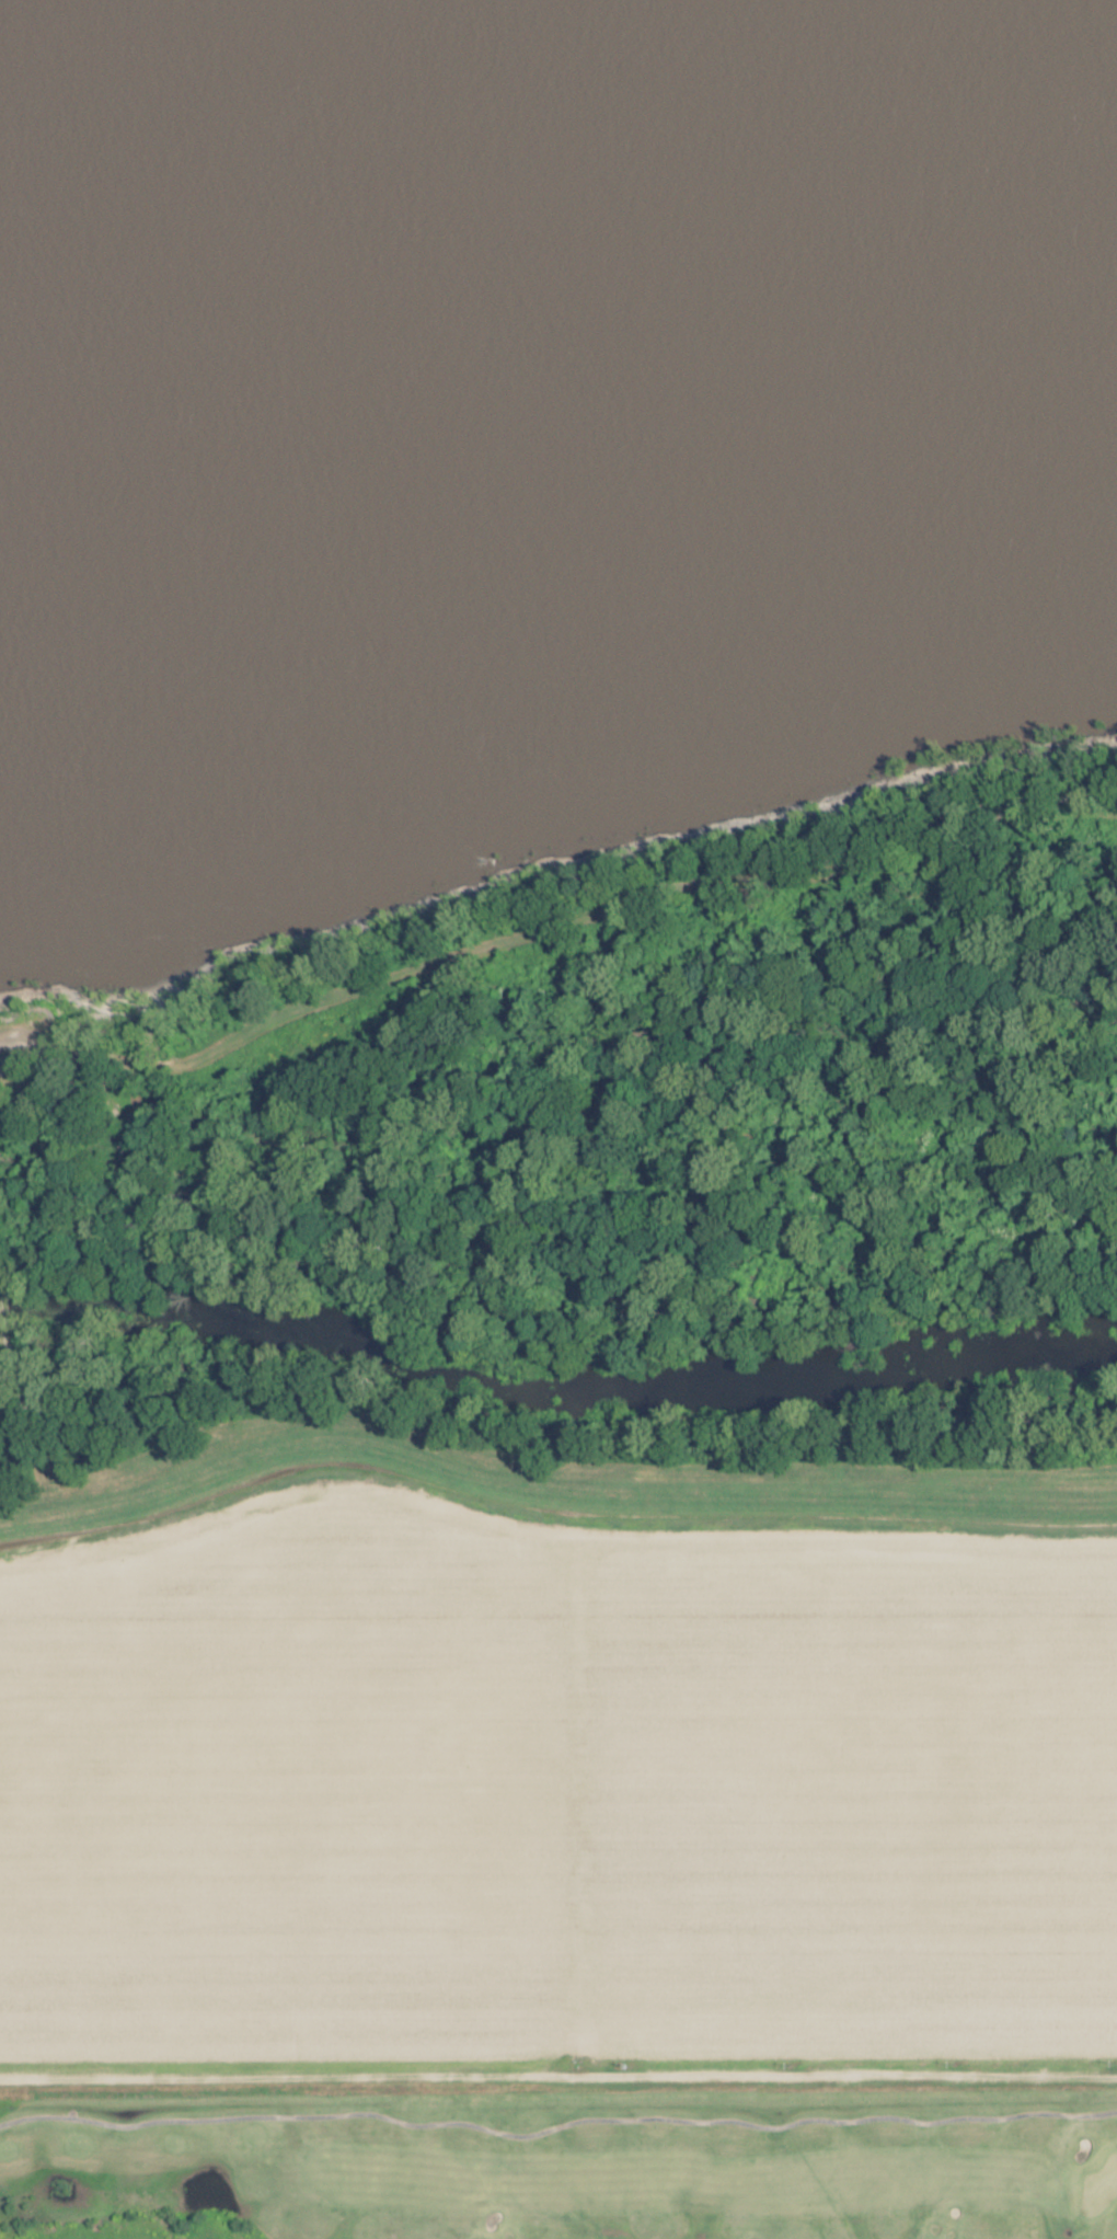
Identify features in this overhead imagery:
river: (68, 11)
road: (558, 2075)

